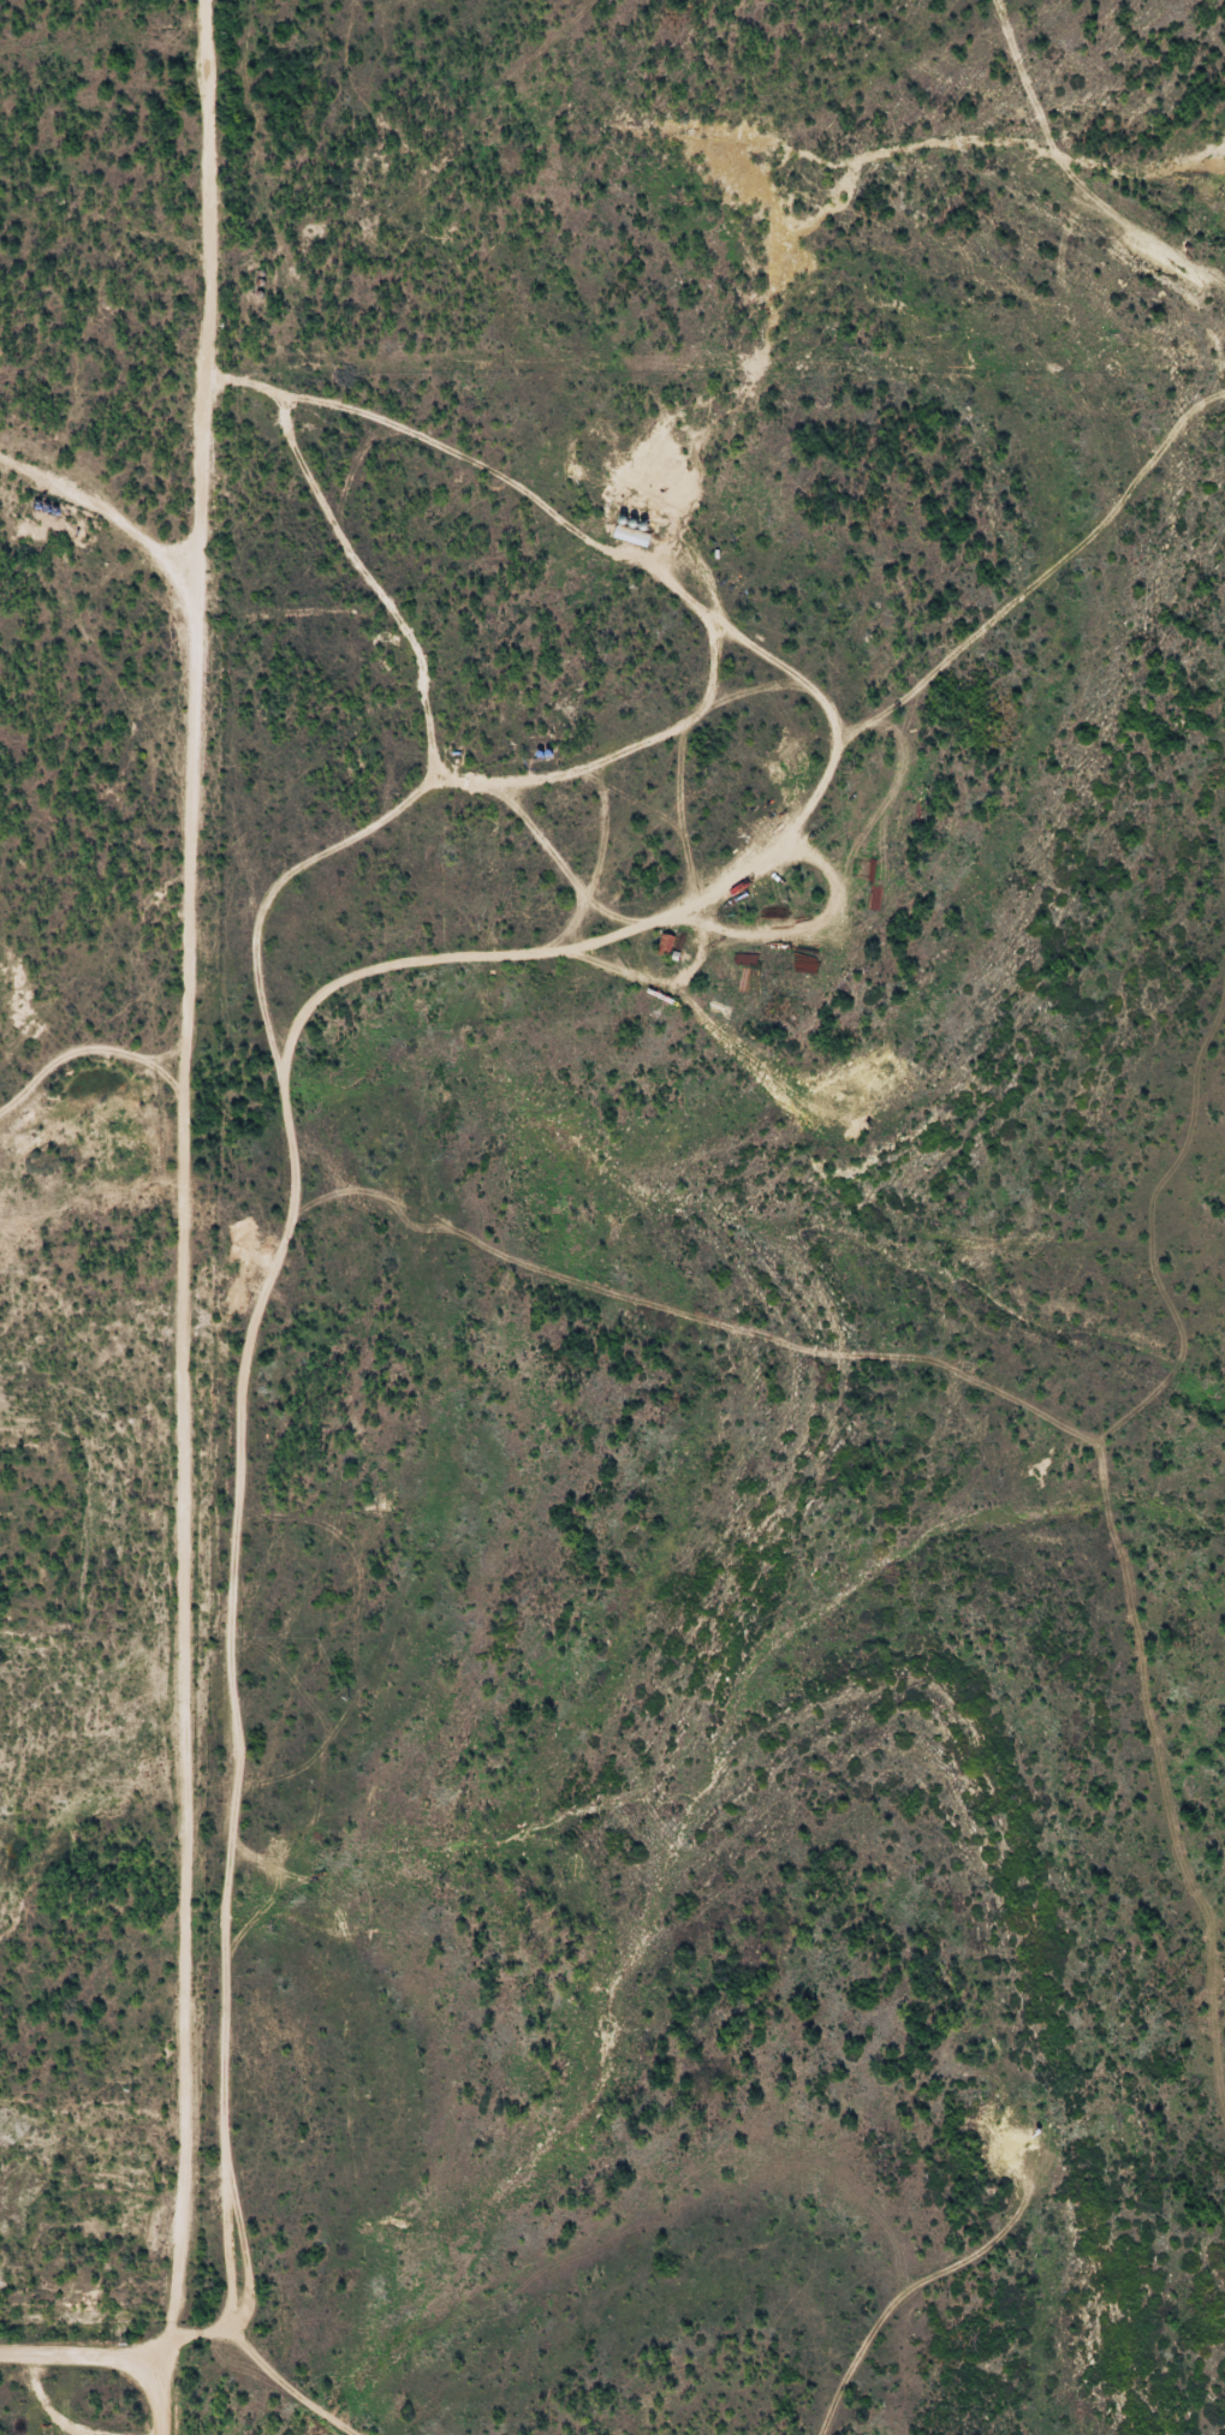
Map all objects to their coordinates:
road: (94, 477)
building: (631, 532)
building: (631, 546)
road: (638, 564)
road: (750, 689)
road: (679, 814)
road: (787, 830)
road: (602, 833)
road: (606, 910)
road: (820, 921)
road: (565, 935)
building: (665, 942)
road: (665, 980)
road: (85, 1070)
road: (180, 1167)
road: (237, 1697)
road: (82, 2339)
road: (257, 2364)
road: (162, 2386)
road: (44, 2406)

